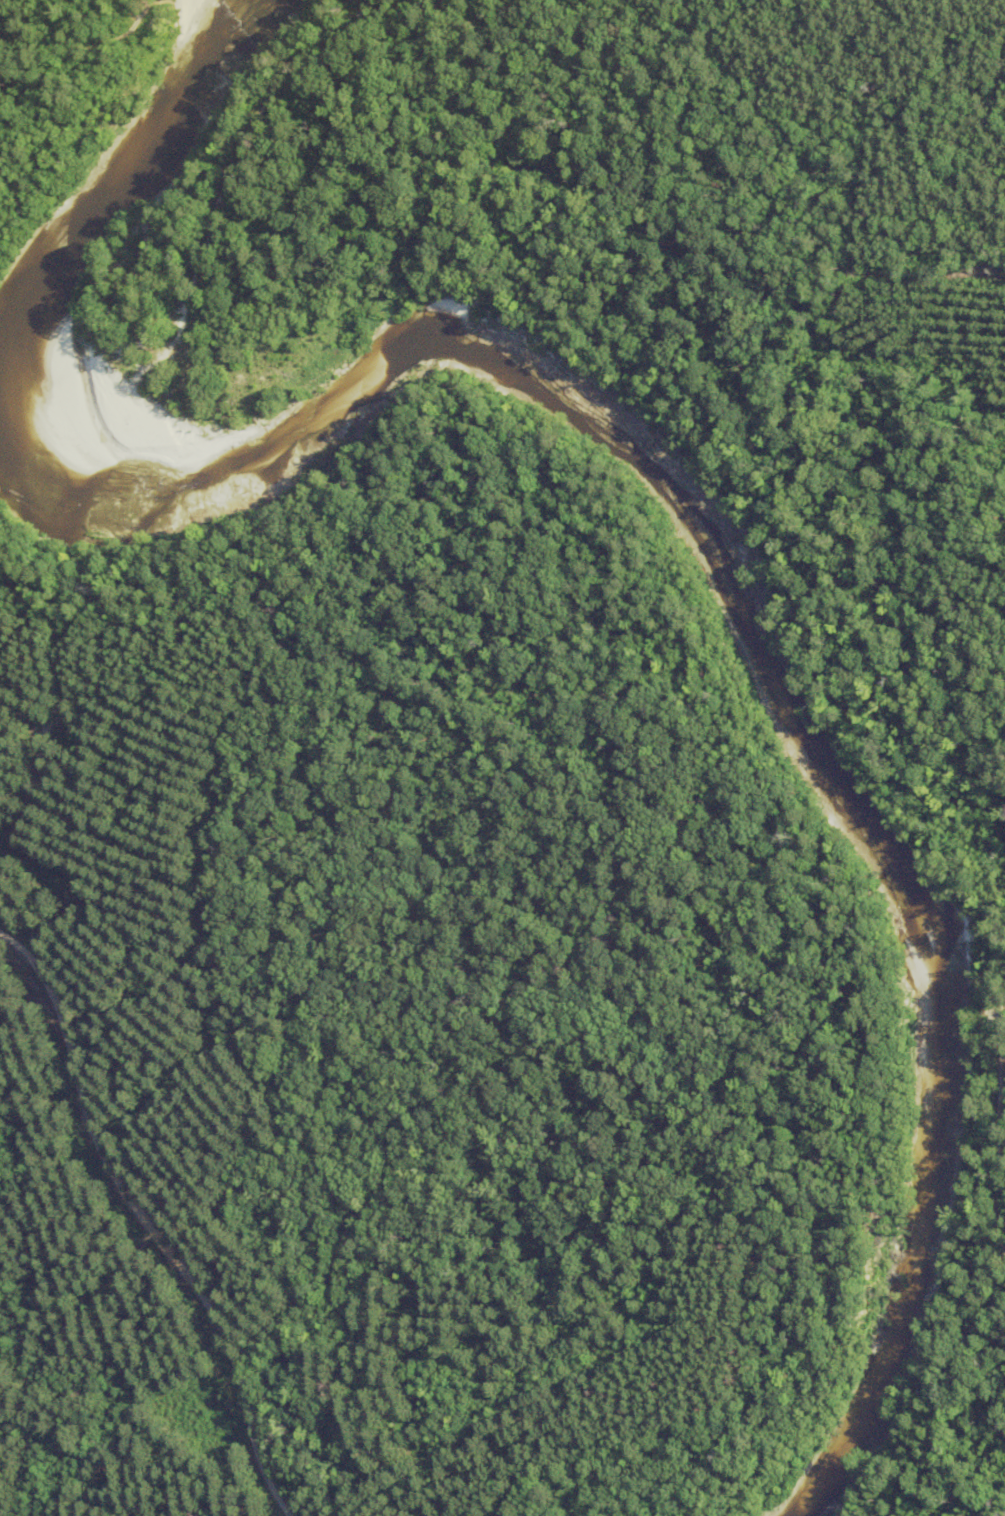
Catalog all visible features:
road: (257, 126)
river: (114, 179)
river: (746, 629)
road: (145, 1225)

